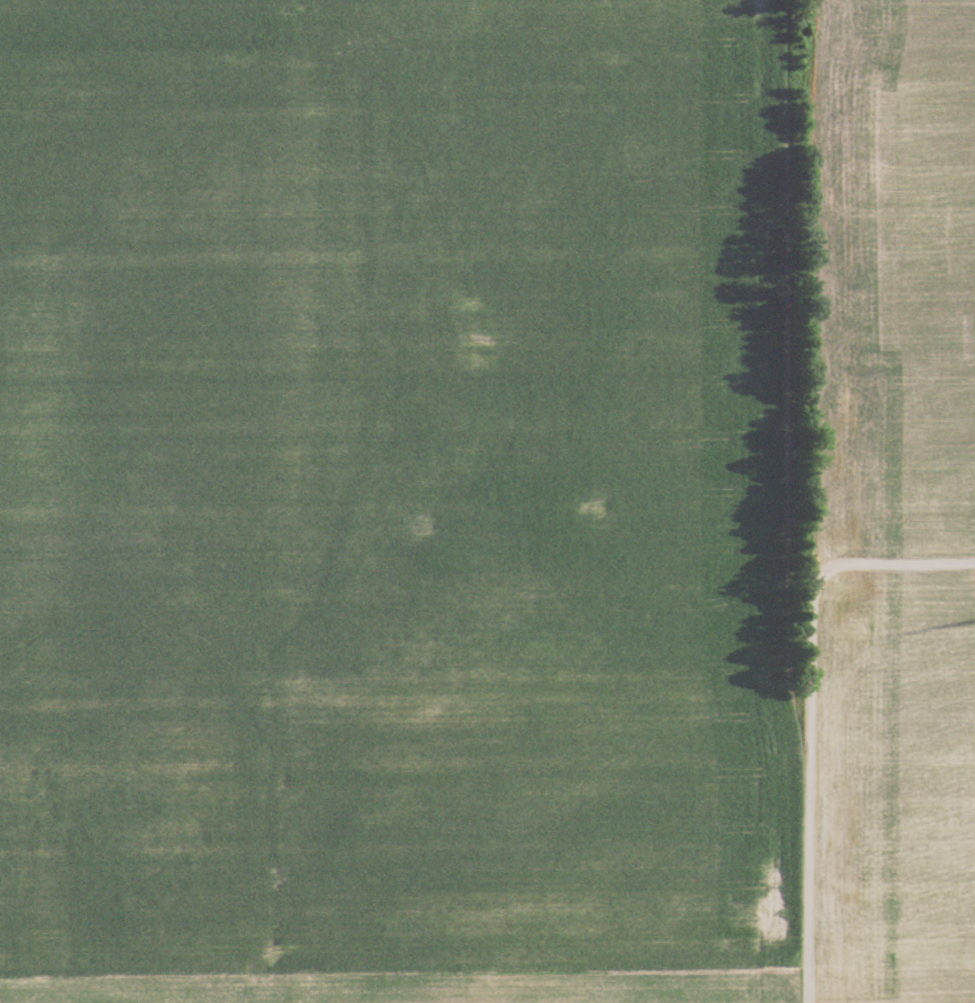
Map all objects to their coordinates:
road: (801, 701)

